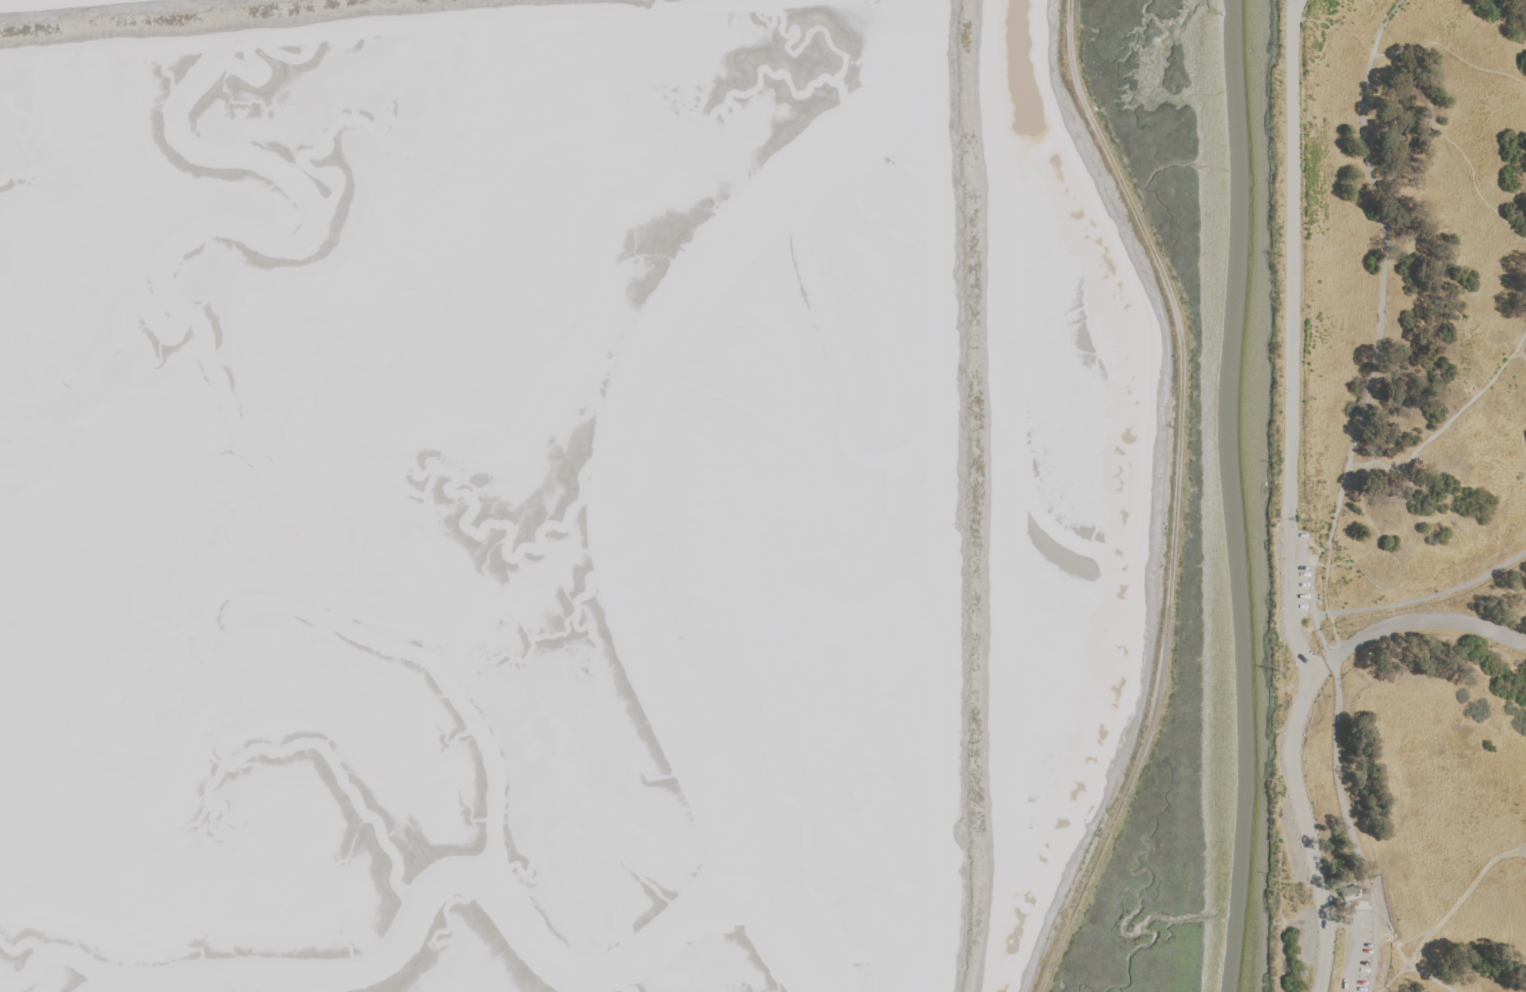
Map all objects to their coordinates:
road: (1294, 2)
road: (1431, 89)
road: (1291, 260)
road: (1380, 308)
road: (1521, 355)
road: (1357, 466)
road: (1398, 469)
park: (1400, 497)
parking lot: (1293, 575)
road: (1425, 599)
road: (1289, 601)
road: (1325, 603)
road: (1427, 622)
road: (1344, 805)
road: (1301, 820)
road: (1279, 887)
building: (1351, 893)
road: (1455, 904)
parking lot: (1303, 935)
road: (1414, 937)
road: (1352, 939)
parking lot: (1365, 953)
road: (1409, 964)
road: (1395, 975)

